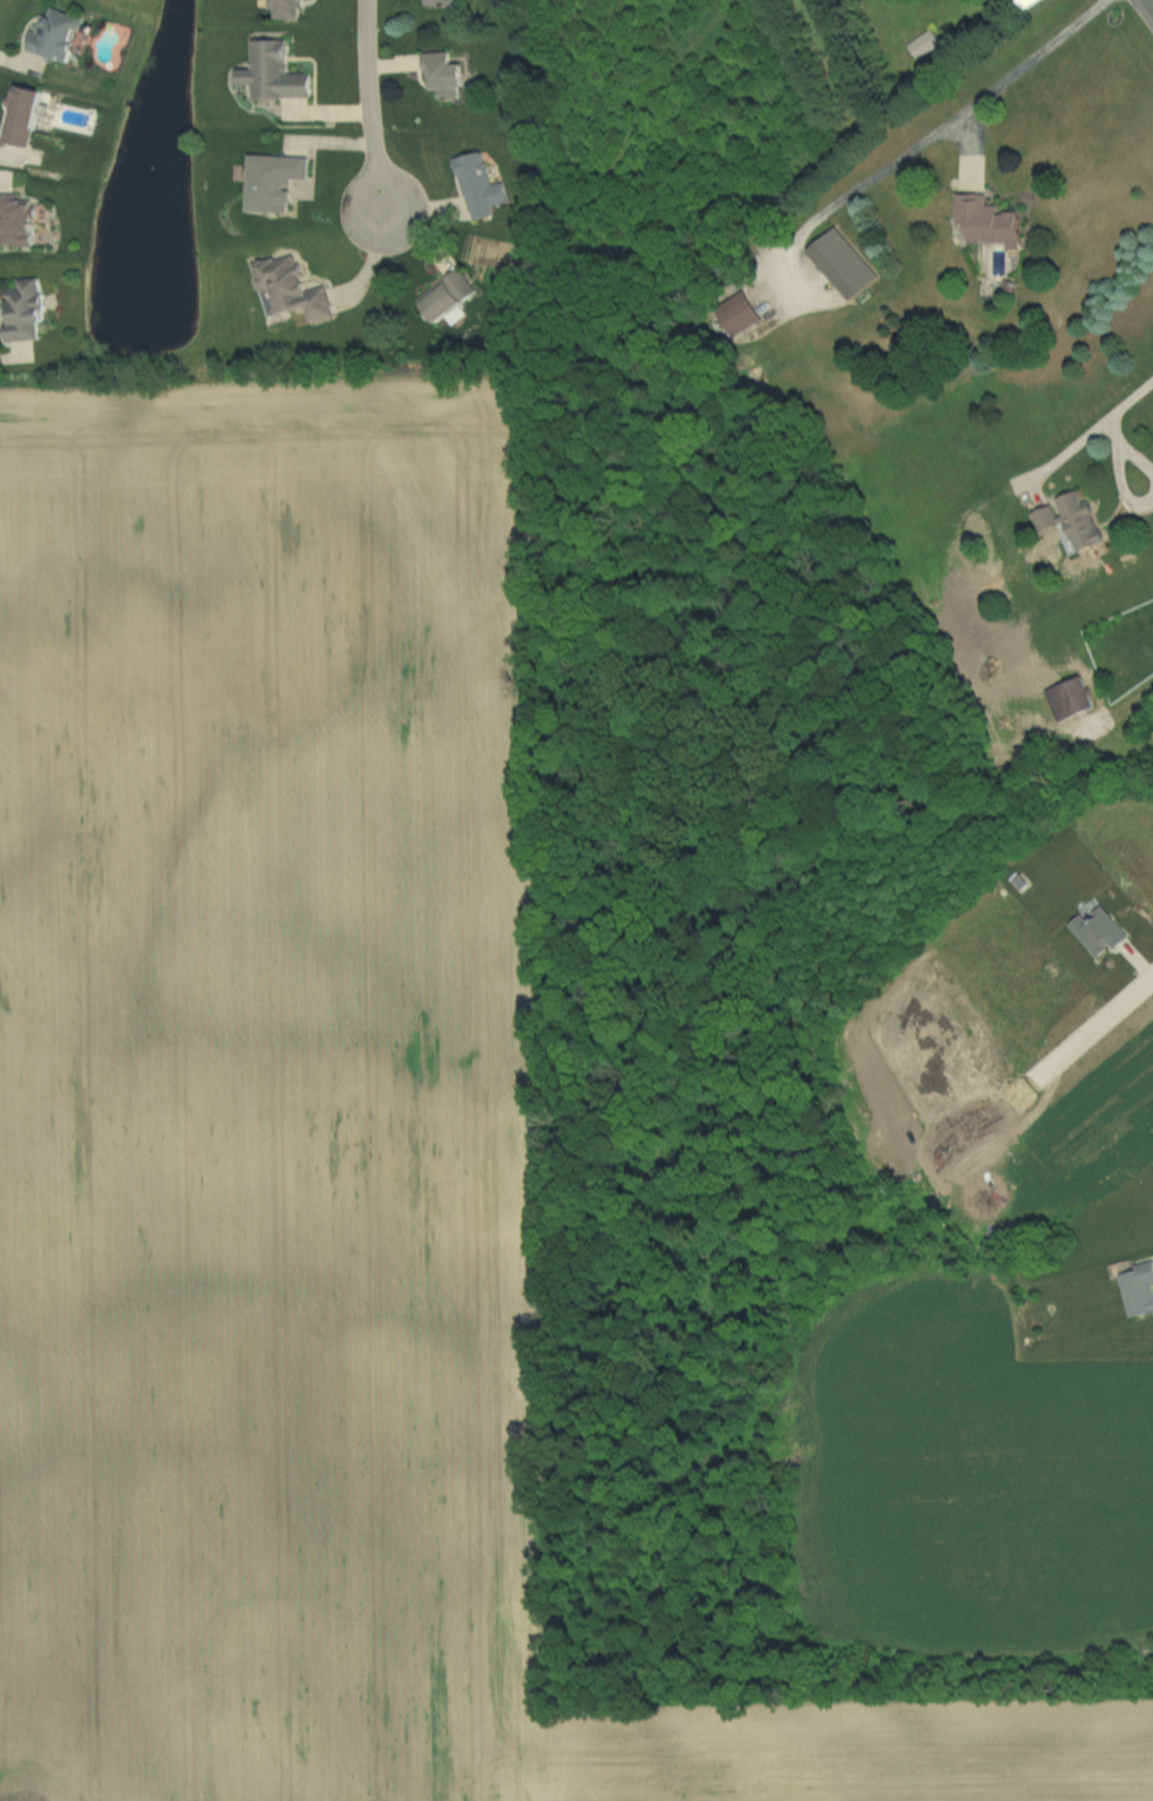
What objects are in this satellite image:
building: (1028, 2)
road: (1151, 2)
building: (292, 8)
building: (59, 33)
building: (926, 44)
building: (276, 73)
building: (445, 74)
road: (368, 111)
building: (26, 115)
road: (941, 131)
building: (276, 181)
building: (481, 187)
building: (20, 219)
building: (989, 221)
building: (843, 264)
building: (292, 289)
building: (448, 296)
building: (29, 310)
building: (741, 314)
road: (1095, 426)
building: (1073, 521)
building: (1072, 699)
road: (1094, 1022)
crop: (317, 1139)
building: (1139, 1290)

